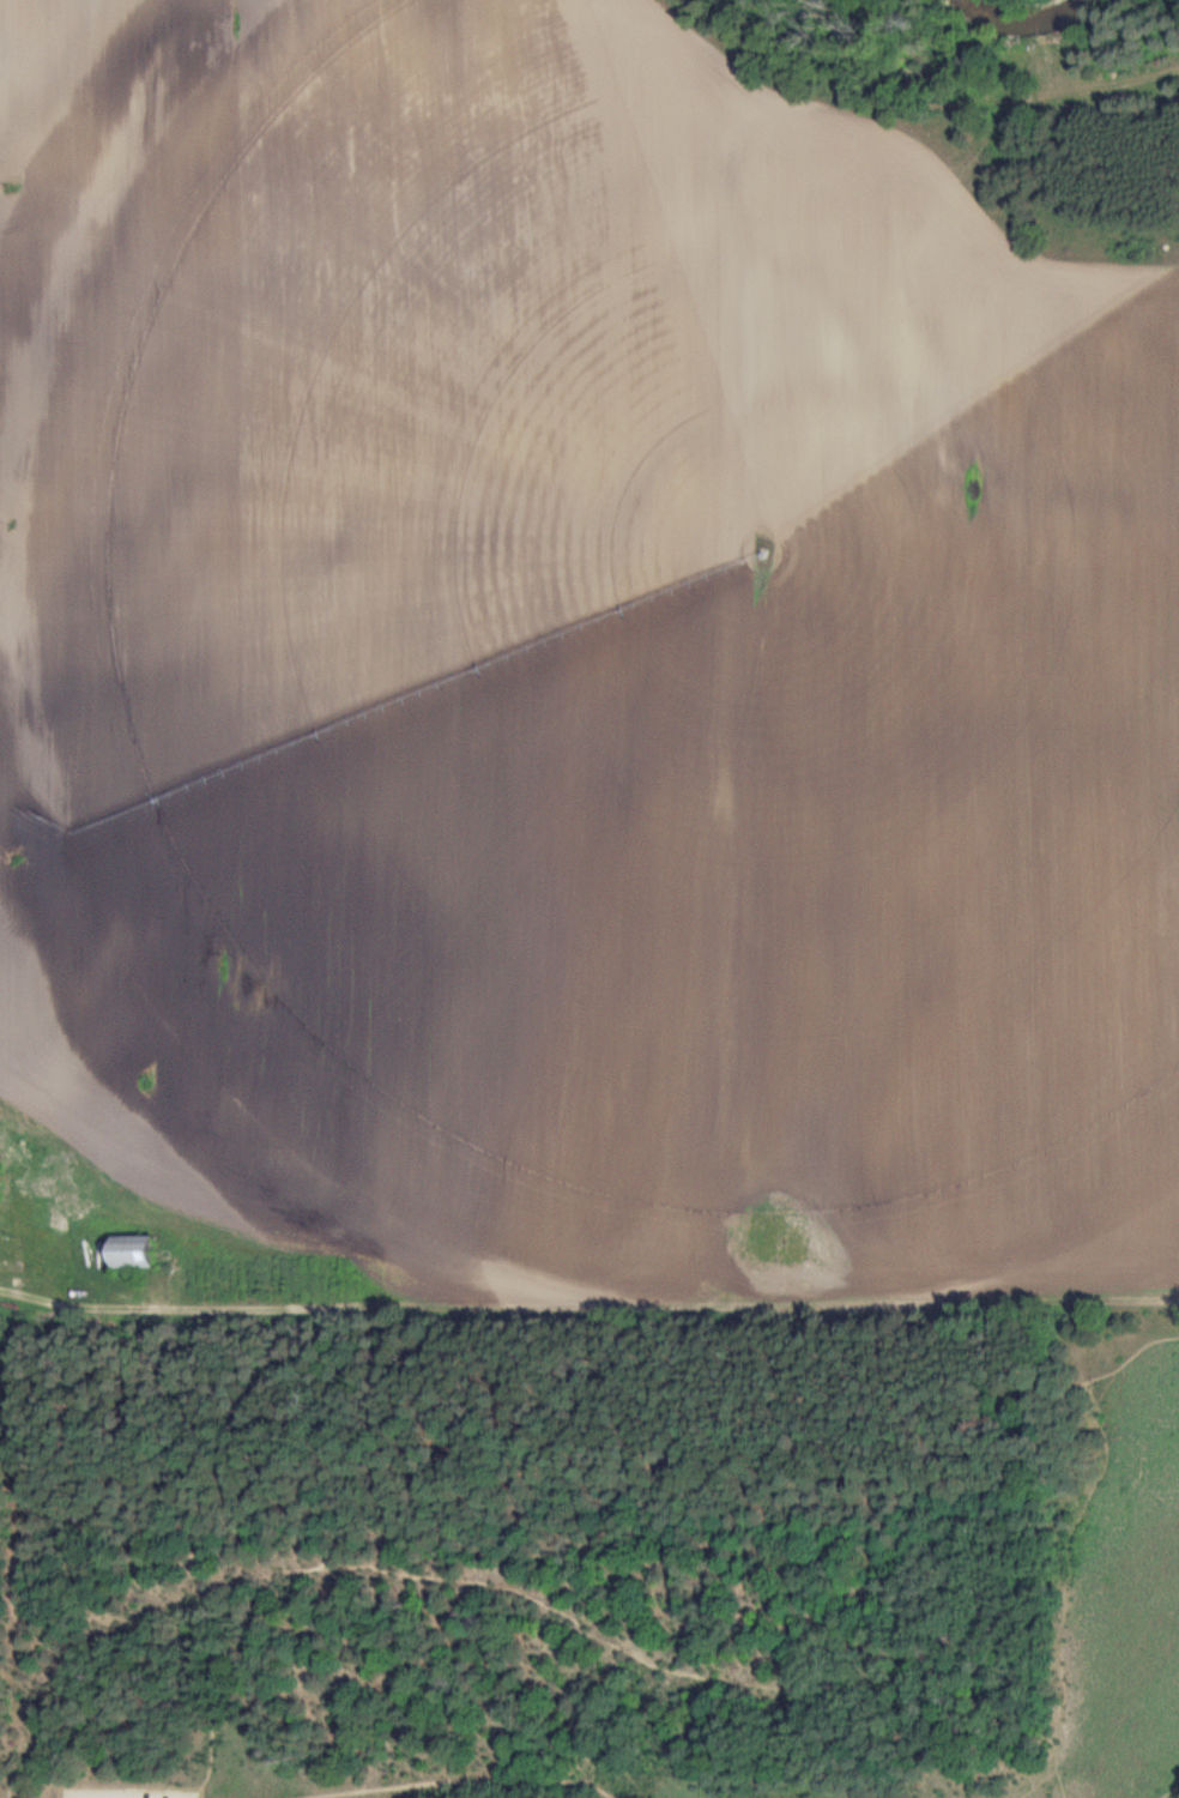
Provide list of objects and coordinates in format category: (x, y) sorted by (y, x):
building: (132, 1253)
road: (87, 1308)
road: (575, 1418)
park: (592, 1550)
road: (401, 1576)
road: (1078, 1585)
road: (462, 1785)
parking lot: (126, 1793)

